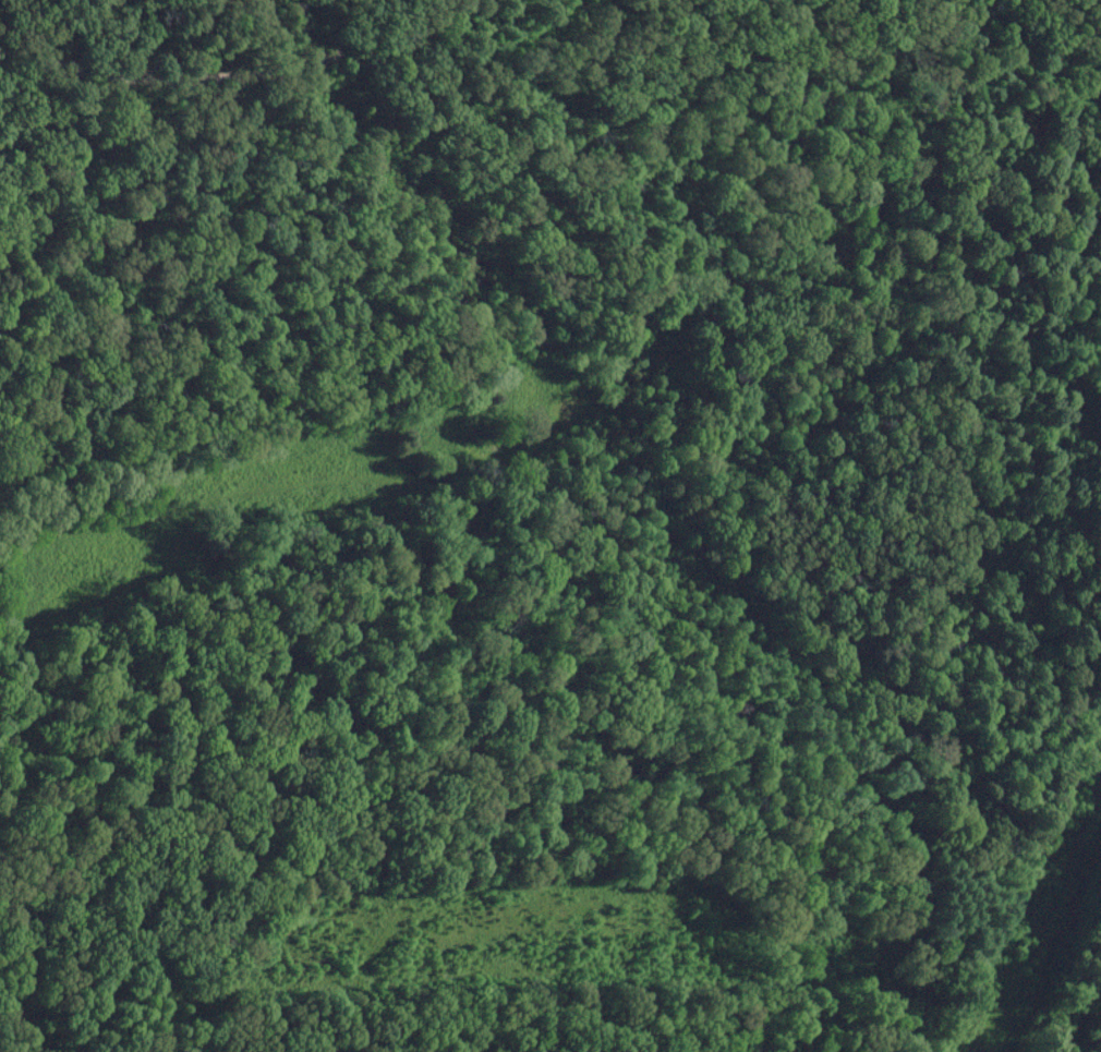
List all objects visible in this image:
road: (230, 75)

